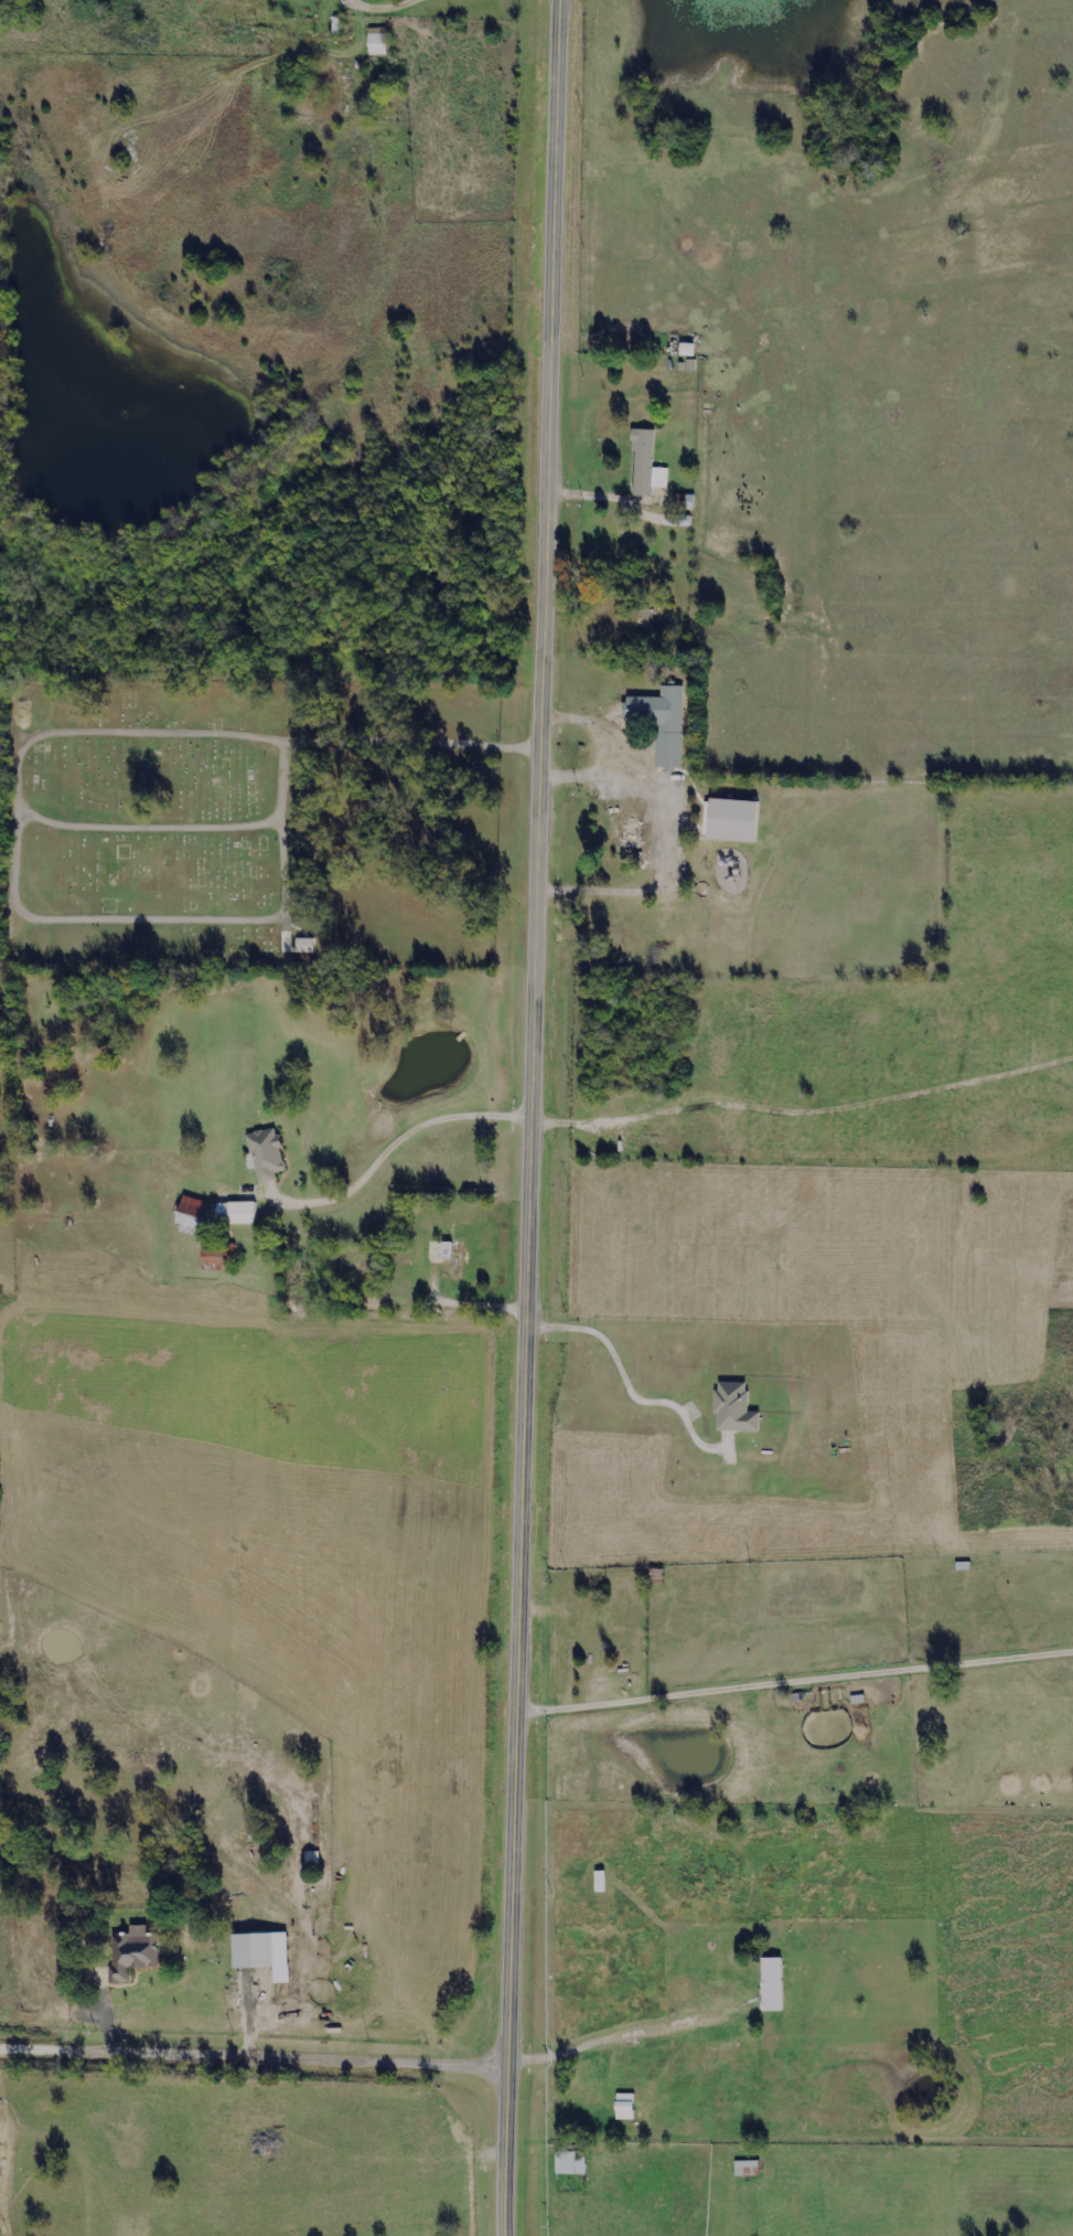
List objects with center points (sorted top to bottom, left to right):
building: (375, 46)
building: (643, 467)
road: (614, 494)
building: (684, 520)
building: (658, 723)
road: (332, 724)
road: (602, 747)
building: (728, 821)
park: (149, 827)
building: (627, 831)
road: (665, 863)
building: (308, 945)
road: (534, 1118)
road: (396, 1140)
building: (264, 1156)
building: (190, 1214)
building: (238, 1214)
building: (222, 1253)
building: (446, 1256)
building: (216, 1266)
road: (469, 1299)
road: (629, 1381)
building: (731, 1409)
road: (577, 1631)
road: (796, 1670)
building: (597, 1884)
building: (249, 1952)
building: (129, 1957)
building: (769, 1985)
road: (612, 2038)
road: (253, 2051)
building: (621, 2108)
building: (568, 2164)
building: (743, 2171)

